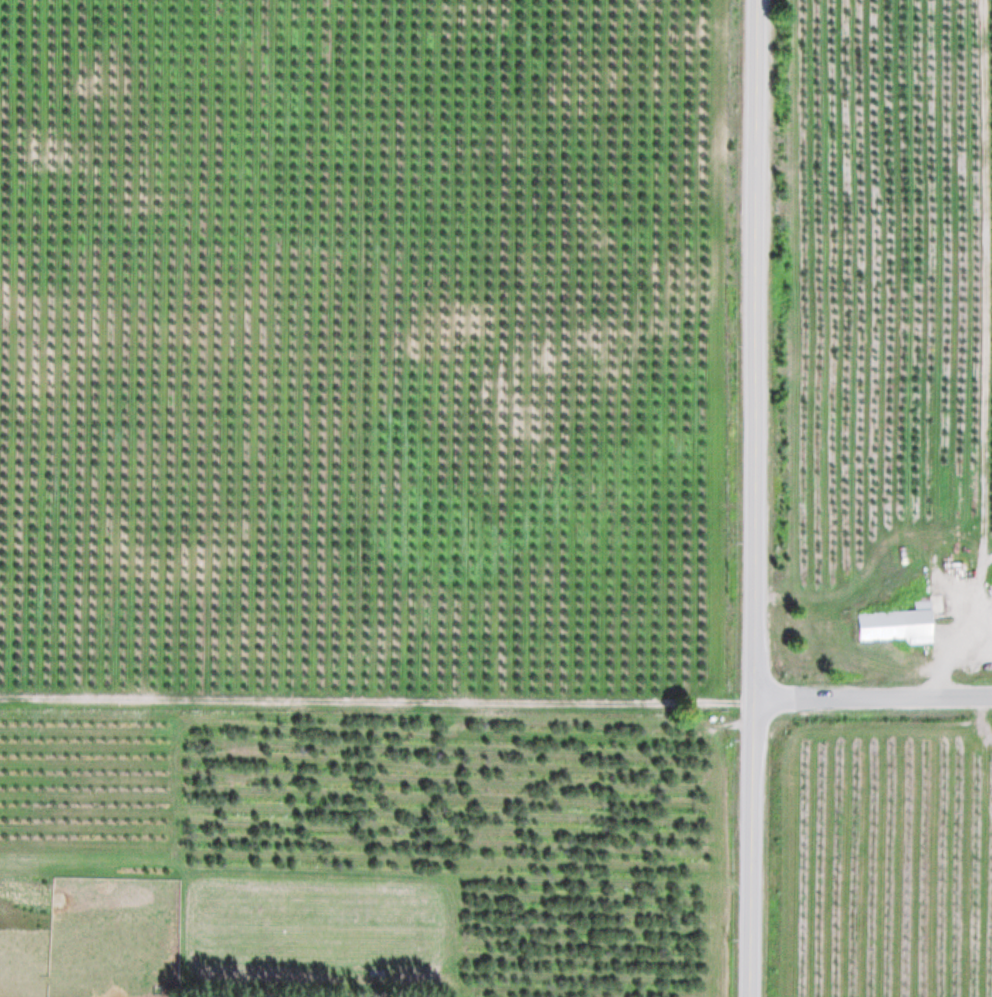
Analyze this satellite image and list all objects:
road: (751, 498)
building: (898, 625)
road: (871, 697)

